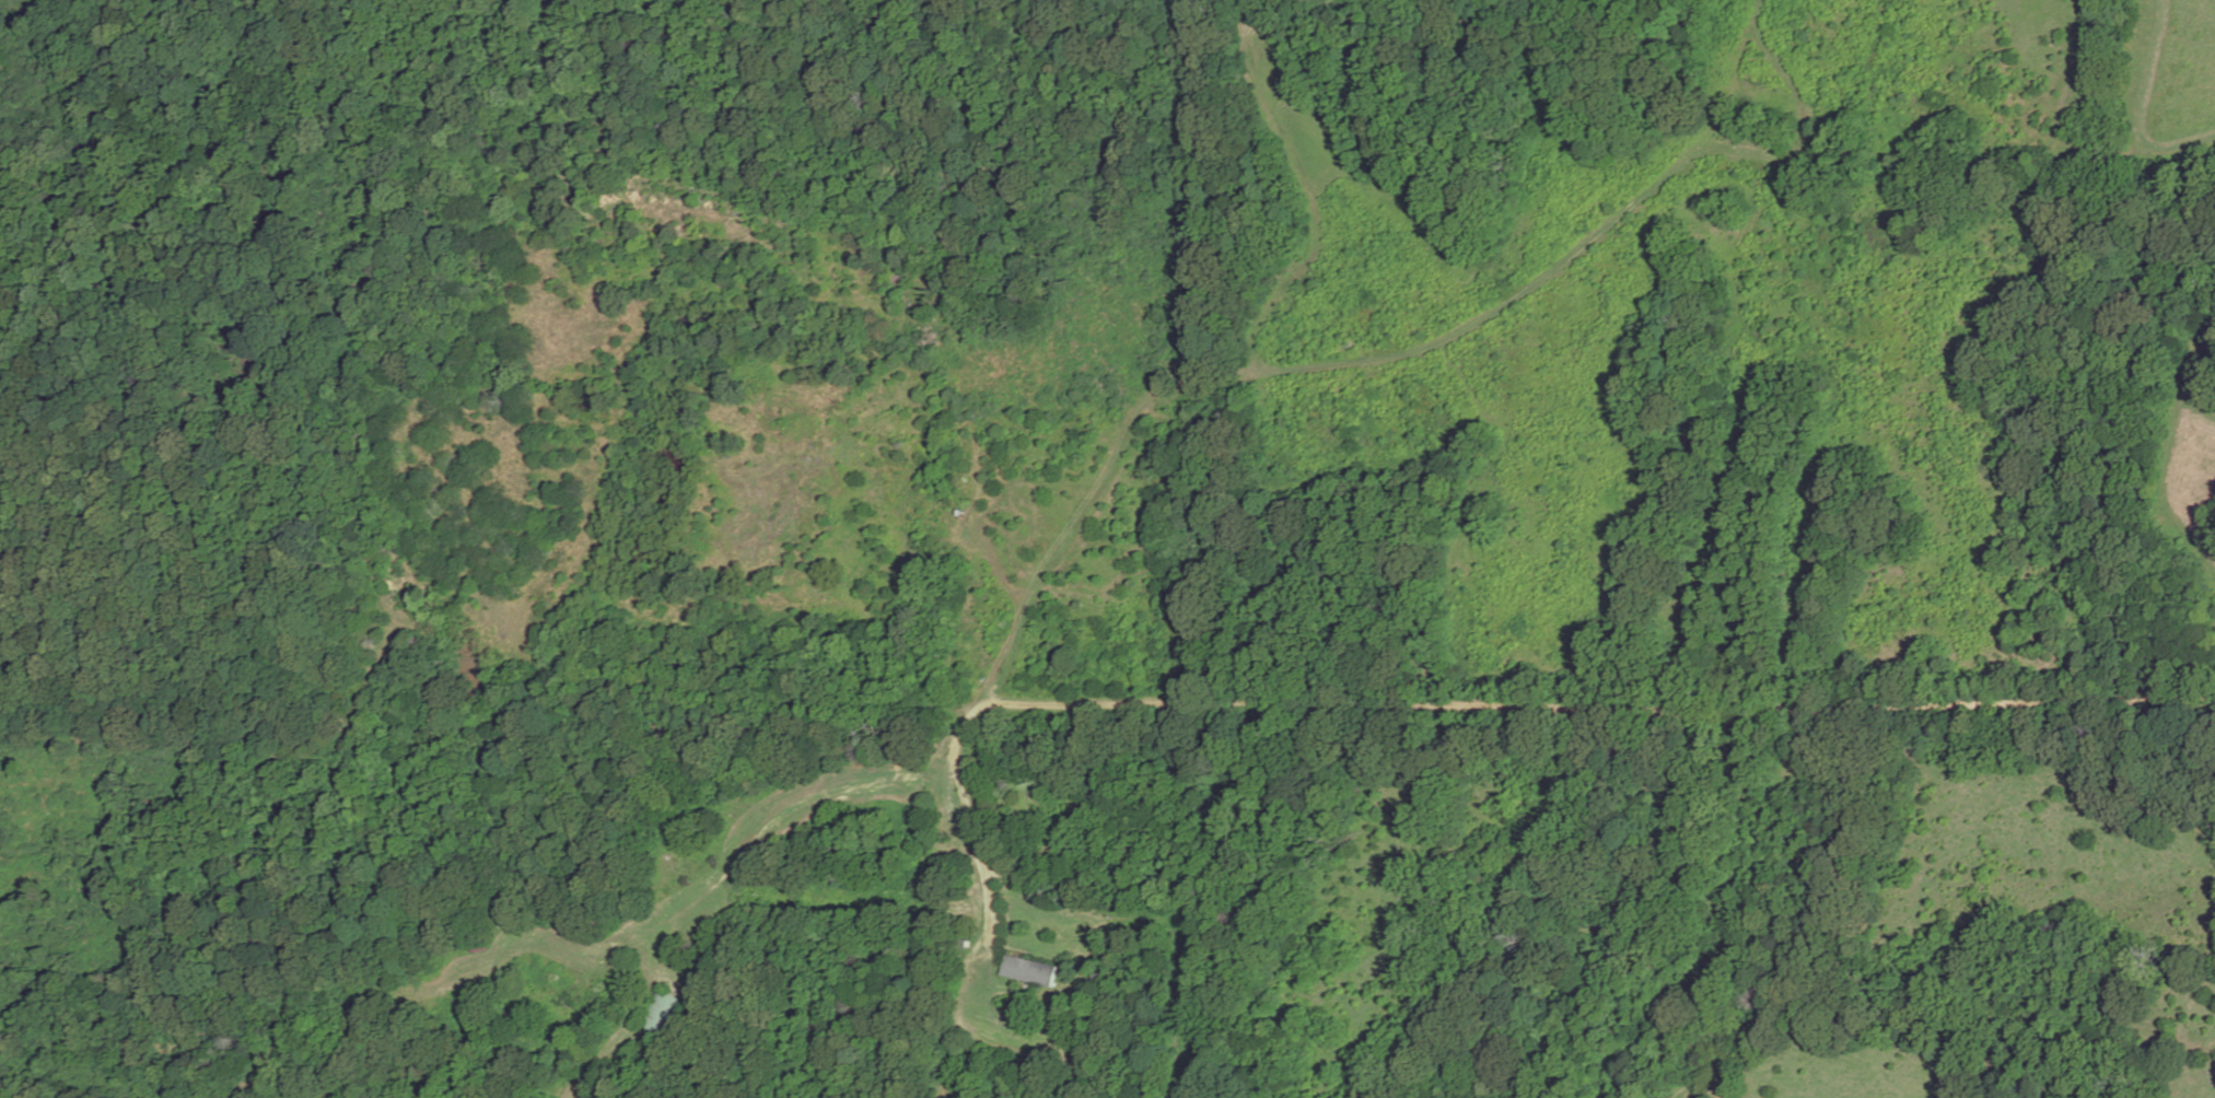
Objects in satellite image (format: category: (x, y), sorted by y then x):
road: (1232, 382)
road: (1597, 709)
road: (779, 825)
building: (1029, 971)
road: (643, 988)
building: (661, 1014)

